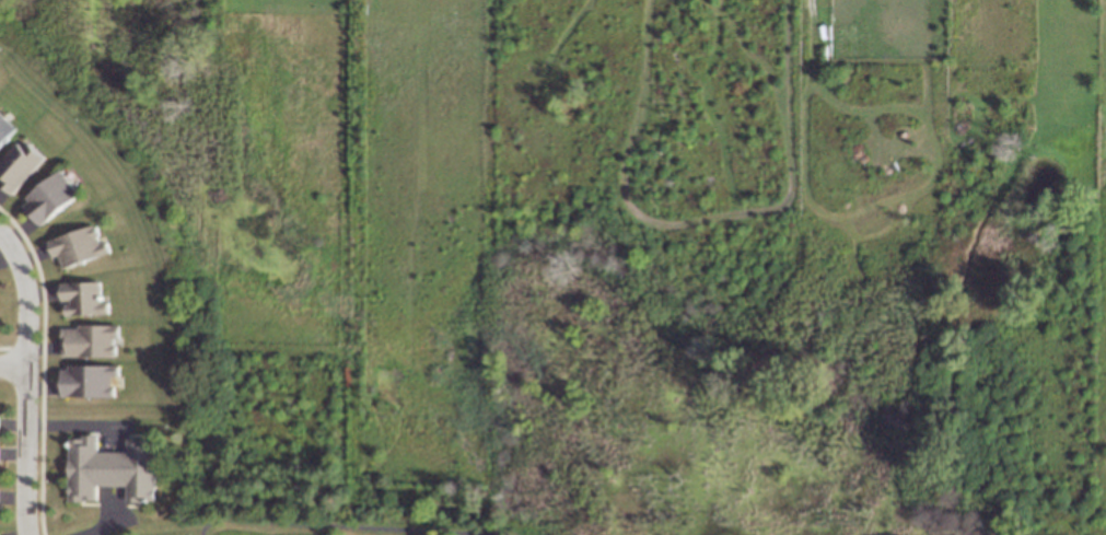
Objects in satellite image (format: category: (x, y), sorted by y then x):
crop: (881, 31)
building: (7, 128)
building: (22, 165)
building: (54, 200)
building: (82, 248)
building: (89, 299)
building: (93, 341)
road: (12, 364)
road: (25, 380)
building: (92, 381)
road: (75, 421)
building: (0, 456)
building: (114, 469)
road: (105, 523)
road: (350, 525)
building: (1, 533)

